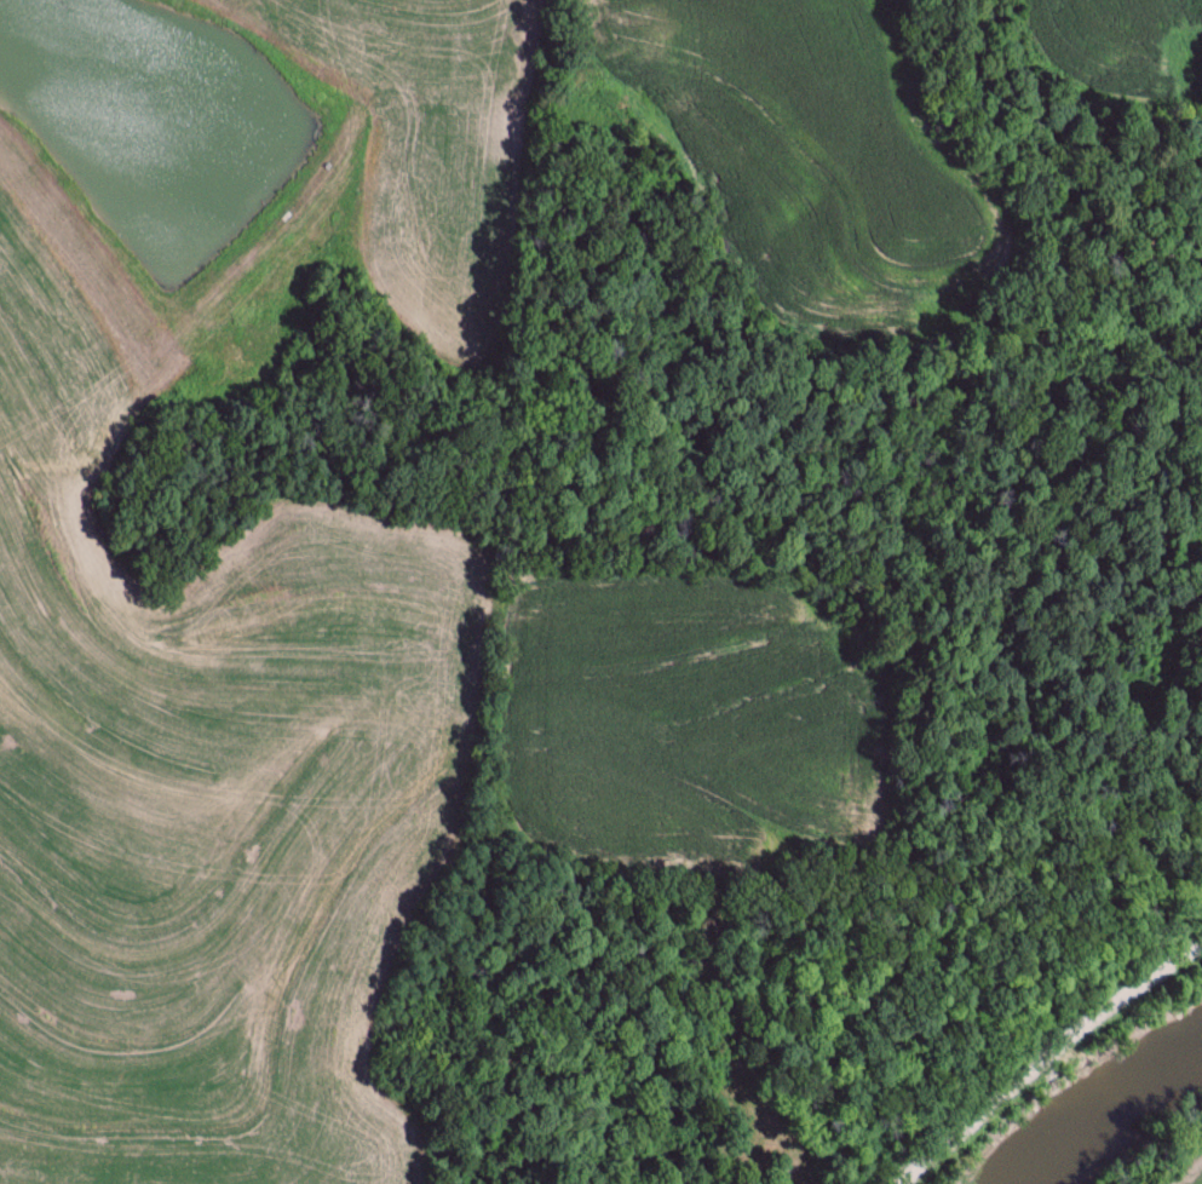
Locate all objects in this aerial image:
road: (1048, 1057)

